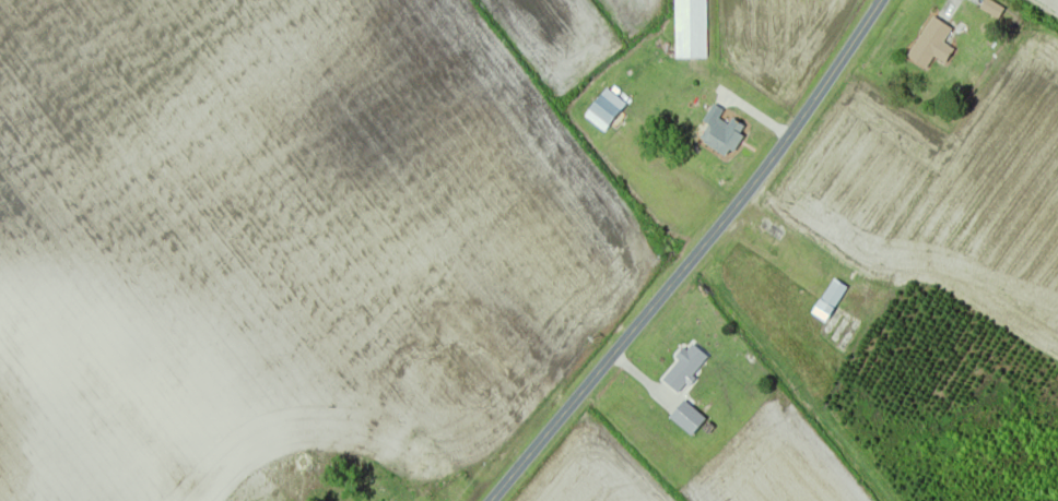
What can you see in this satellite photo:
road: (952, 5)
building: (691, 29)
building: (932, 45)
building: (606, 111)
building: (722, 134)
road: (686, 254)
building: (830, 300)
building: (684, 369)
road: (646, 379)
building: (687, 419)

